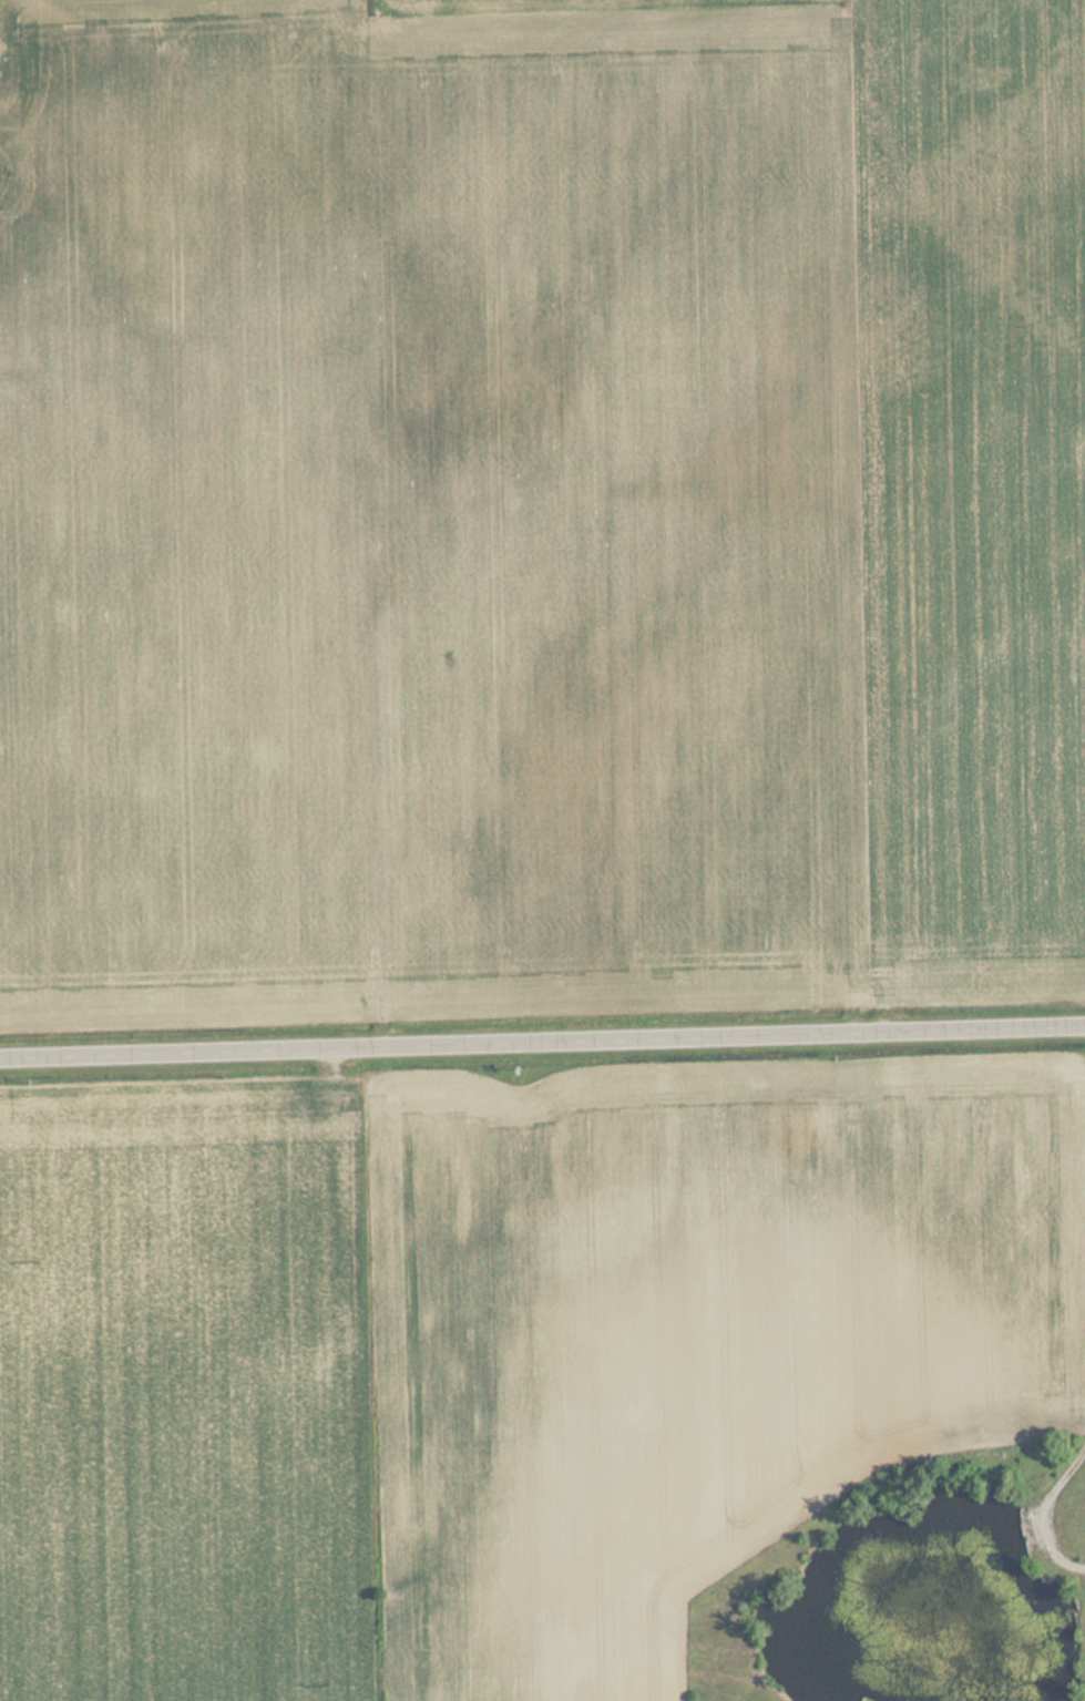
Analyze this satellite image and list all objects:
road: (542, 1037)

